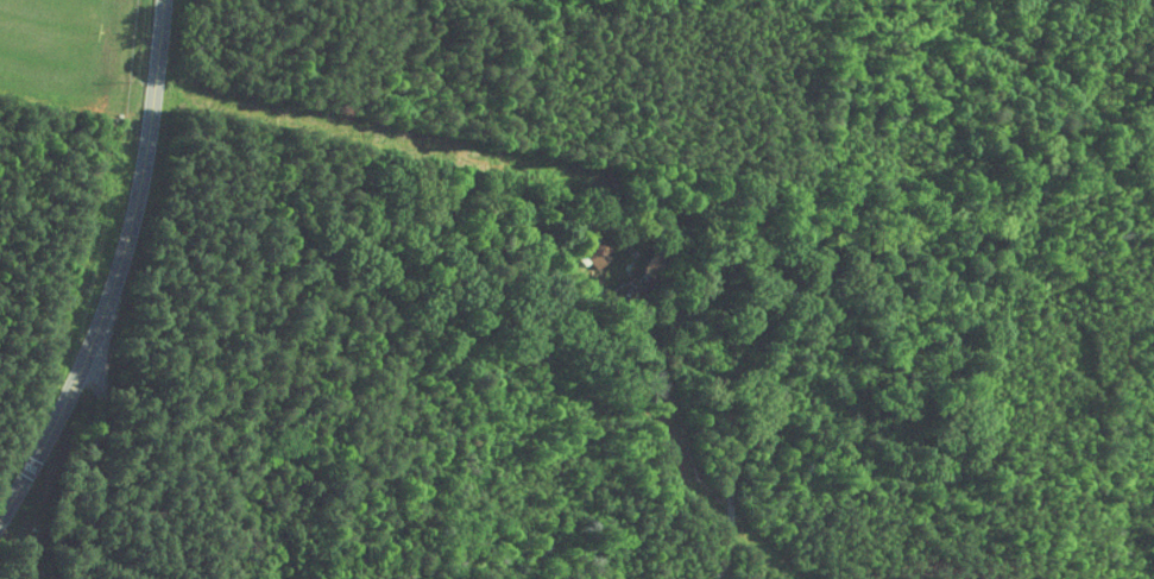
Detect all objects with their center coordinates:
road: (116, 270)
road: (92, 462)

